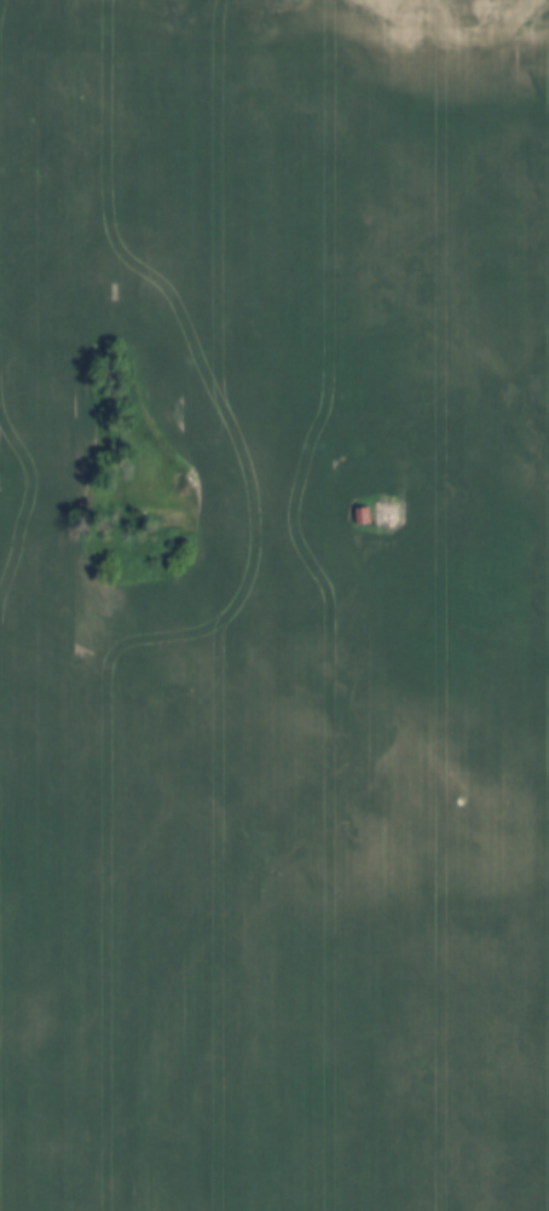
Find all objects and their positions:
building: (360, 518)

